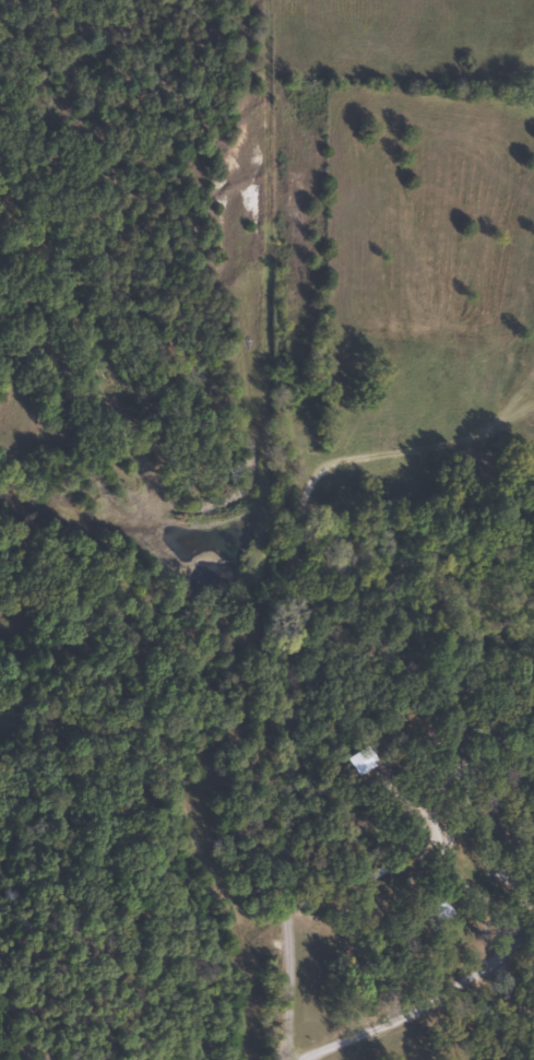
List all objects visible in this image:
road: (484, 173)
road: (418, 514)
road: (283, 527)
building: (459, 741)
building: (363, 761)
building: (436, 911)

